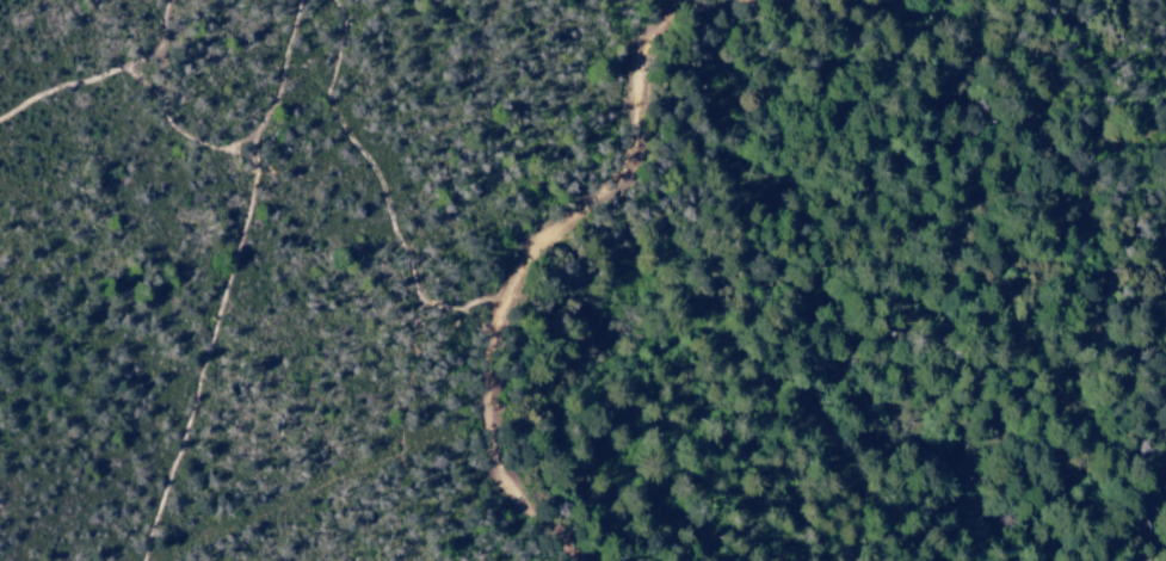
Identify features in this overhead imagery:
road: (554, 248)

